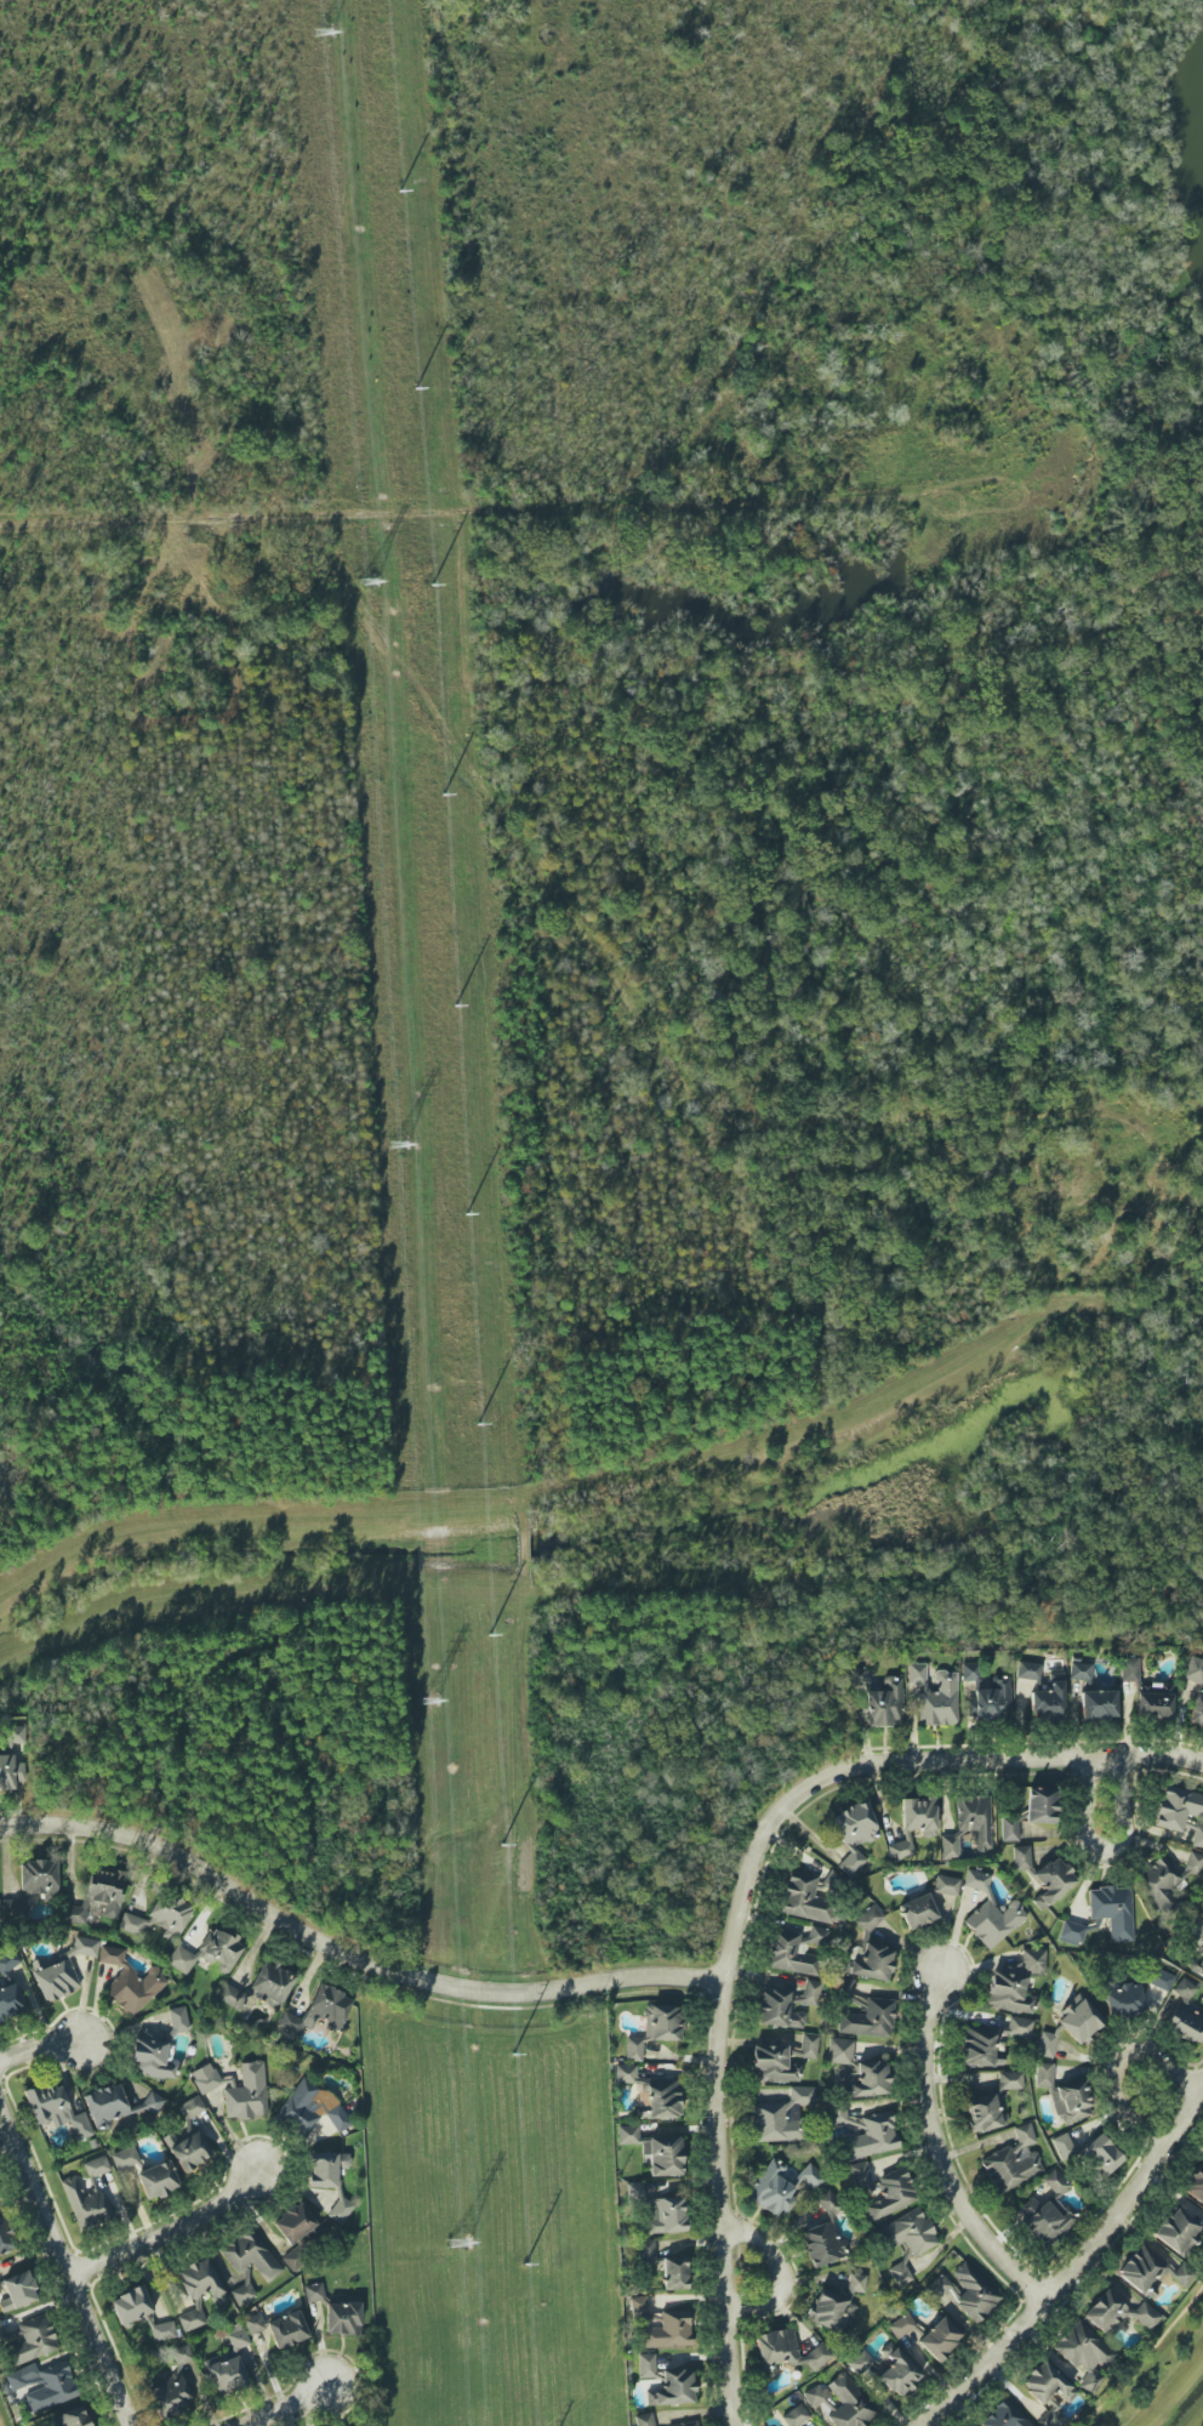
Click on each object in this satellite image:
power tower: (323, 33)
river: (1197, 153)
road: (426, 502)
power tower: (369, 576)
road: (706, 679)
road: (688, 1072)
power tower: (398, 1141)
building: (1128, 1669)
building: (1027, 1672)
building: (1079, 1672)
building: (1193, 1672)
building: (860, 1676)
building: (935, 1696)
building: (987, 1697)
power tower: (428, 1698)
building: (1049, 1701)
building: (1153, 1702)
building: (884, 1704)
building: (1097, 1704)
building: (1197, 1709)
road: (893, 1761)
building: (10, 1772)
building: (1040, 1805)
building: (1181, 1812)
building: (919, 1815)
building: (969, 1826)
building: (1009, 1828)
building: (853, 1833)
road: (1106, 1846)
building: (900, 1847)
building: (976, 1880)
building: (34, 1883)
building: (946, 1885)
building: (99, 1893)
building: (805, 1900)
building: (1112, 1910)
building: (917, 1912)
building: (159, 1919)
building: (868, 1919)
building: (993, 1921)
building: (1071, 1934)
building: (84, 1947)
building: (782, 1949)
building: (209, 1952)
road: (348, 1953)
building: (8, 1961)
building: (872, 1963)
building: (1196, 1964)
building: (56, 1980)
building: (1161, 1980)
building: (130, 1982)
building: (1014, 1982)
building: (272, 1984)
building: (845, 1989)
building: (811, 1992)
building: (230, 1995)
building: (1122, 1997)
building: (10, 2001)
building: (777, 2010)
building: (319, 2011)
building: (1185, 2015)
building: (1079, 2018)
building: (868, 2020)
building: (662, 2023)
building: (1019, 2027)
road: (39, 2044)
building: (976, 2045)
building: (1047, 2045)
building: (634, 2049)
building: (839, 2051)
building: (781, 2060)
road: (1113, 2065)
building: (625, 2073)
building: (1043, 2074)
building: (205, 2078)
building: (865, 2079)
building: (1010, 2080)
building: (246, 2094)
building: (662, 2100)
building: (1071, 2101)
building: (118, 2107)
building: (190, 2108)
building: (309, 2109)
building: (56, 2111)
building: (984, 2113)
building: (780, 2117)
building: (844, 2119)
building: (627, 2135)
building: (872, 2136)
building: (1062, 2146)
building: (187, 2149)
road: (937, 2154)
building: (662, 2156)
building: (1100, 2156)
building: (124, 2158)
building: (1013, 2162)
building: (96, 2166)
building: (326, 2169)
building: (811, 2177)
building: (861, 2177)
building: (158, 2180)
building: (1195, 2182)
building: (772, 2189)
building: (891, 2196)
building: (85, 2204)
road: (718, 2204)
building: (340, 2210)
building: (1047, 2213)
building: (665, 2215)
building: (293, 2222)
road: (172, 2226)
building: (820, 2231)
building: (908, 2232)
building: (1176, 2232)
building: (4, 2237)
power tower: (457, 2242)
building: (646, 2251)
building: (251, 2257)
building: (295, 2257)
road: (73, 2259)
road: (1077, 2266)
road: (779, 2271)
building: (1150, 2271)
building: (674, 2272)
building: (900, 2273)
building: (200, 2280)
building: (937, 2287)
building: (18, 2291)
building: (313, 2293)
building: (973, 2293)
building: (241, 2294)
building: (836, 2305)
building: (130, 2306)
building: (640, 2310)
building: (1118, 2313)
building: (342, 2318)
building: (190, 2319)
building: (253, 2323)
building: (901, 2325)
building: (286, 2329)
building: (163, 2330)
building: (668, 2330)
building: (236, 2336)
building: (939, 2339)
building: (1084, 2347)
building: (786, 2352)
road: (1144, 2357)
building: (861, 2364)
building: (899, 2373)
building: (1096, 2374)
building: (226, 2375)
building: (666, 2382)
building: (42, 2386)
building: (173, 2386)
building: (1048, 2392)
building: (815, 2394)
road: (280, 2398)
building: (849, 2403)
building: (796, 2416)
building: (1004, 2416)
building: (72, 2418)
building: (644, 2420)
building: (685, 2424)

